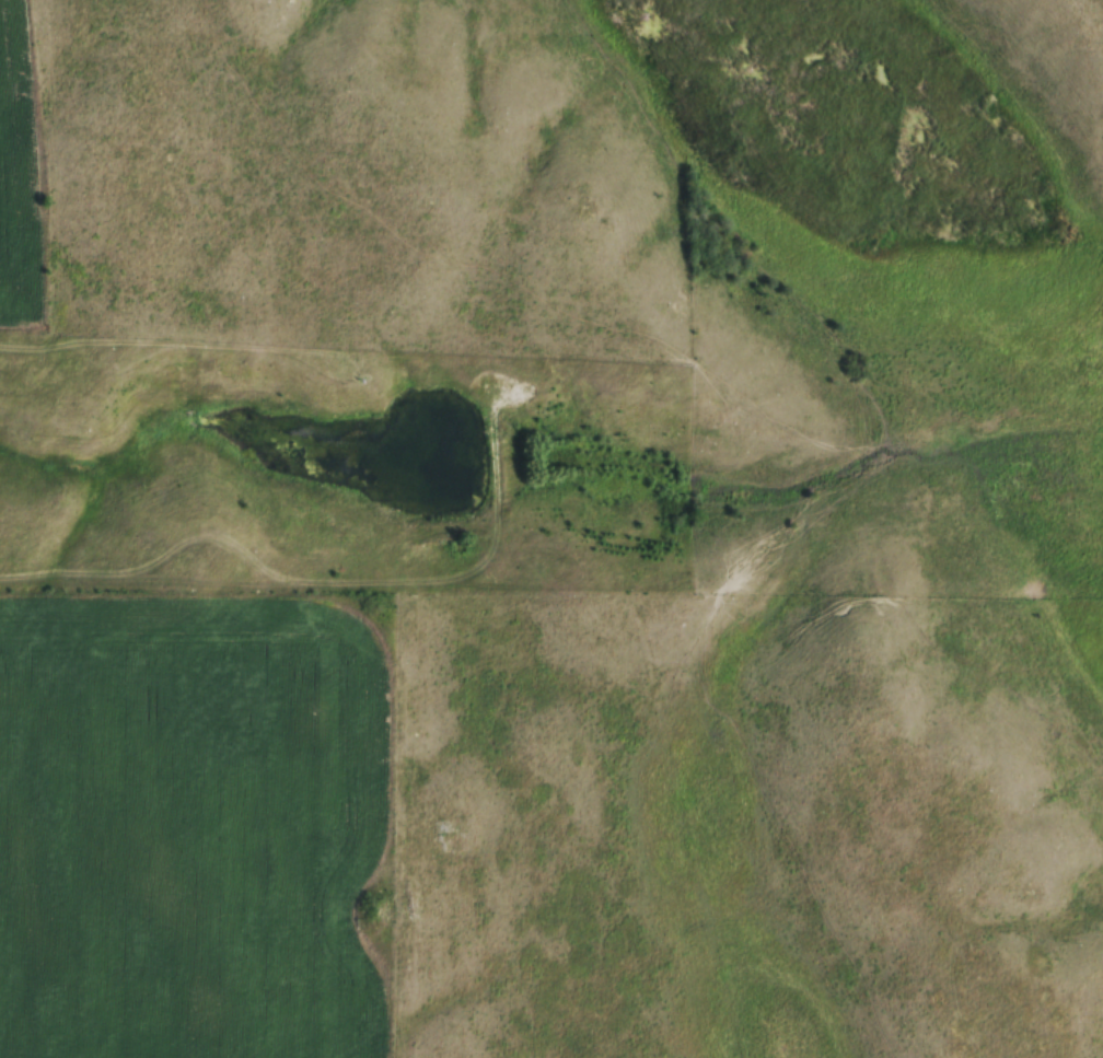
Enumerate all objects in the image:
river: (901, 102)

